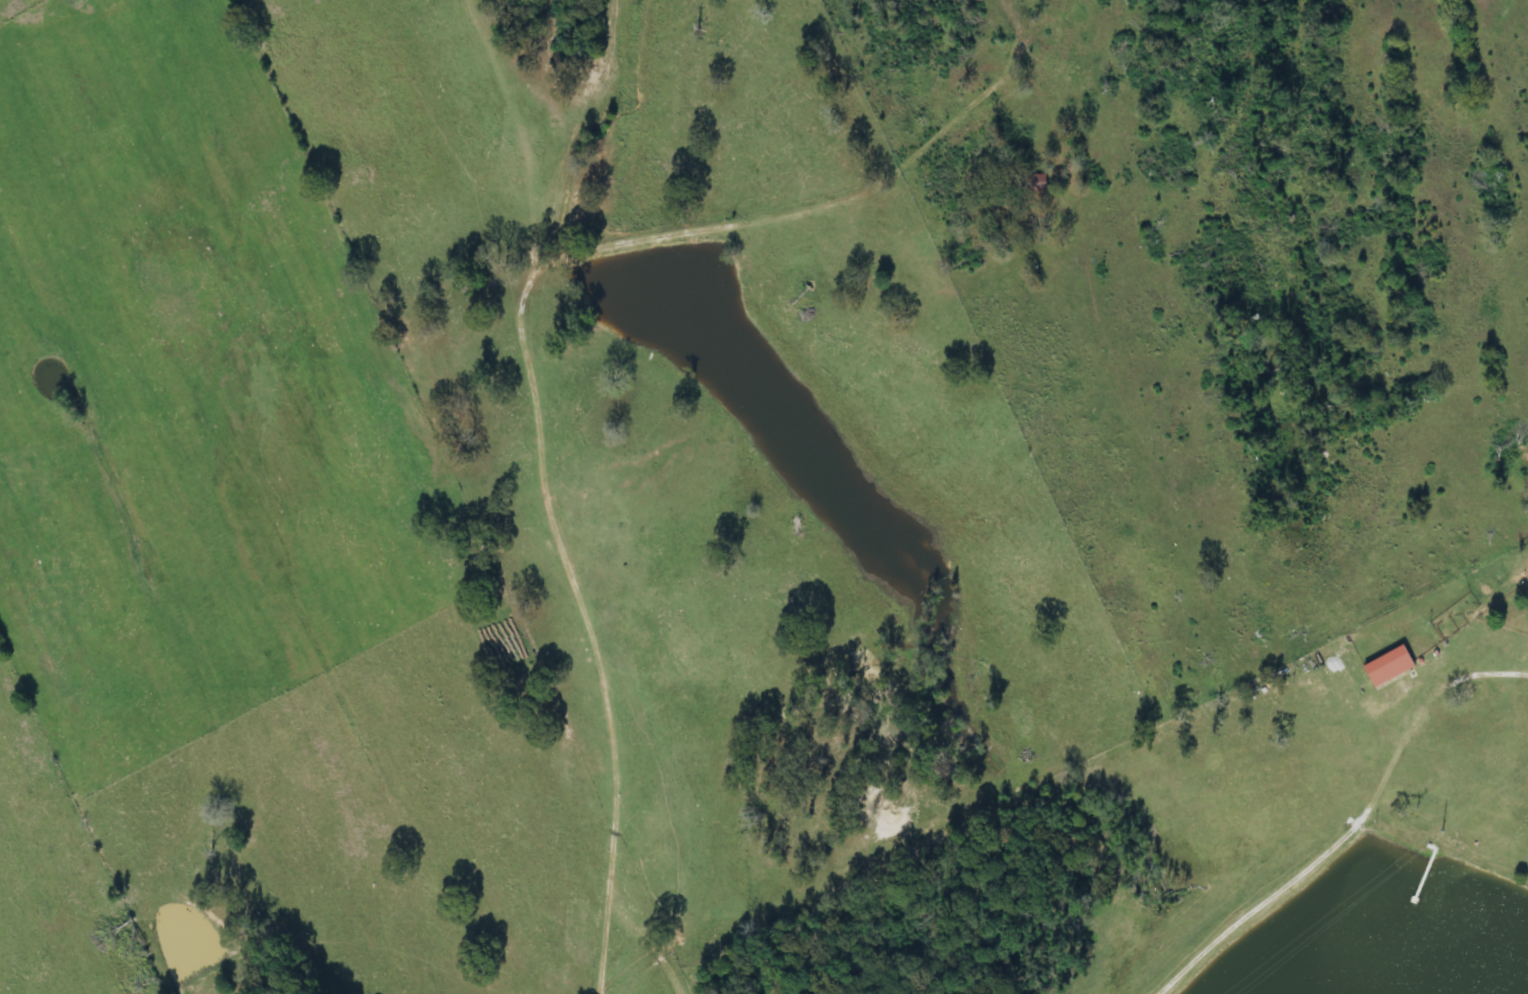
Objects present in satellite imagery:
building: (1389, 666)

